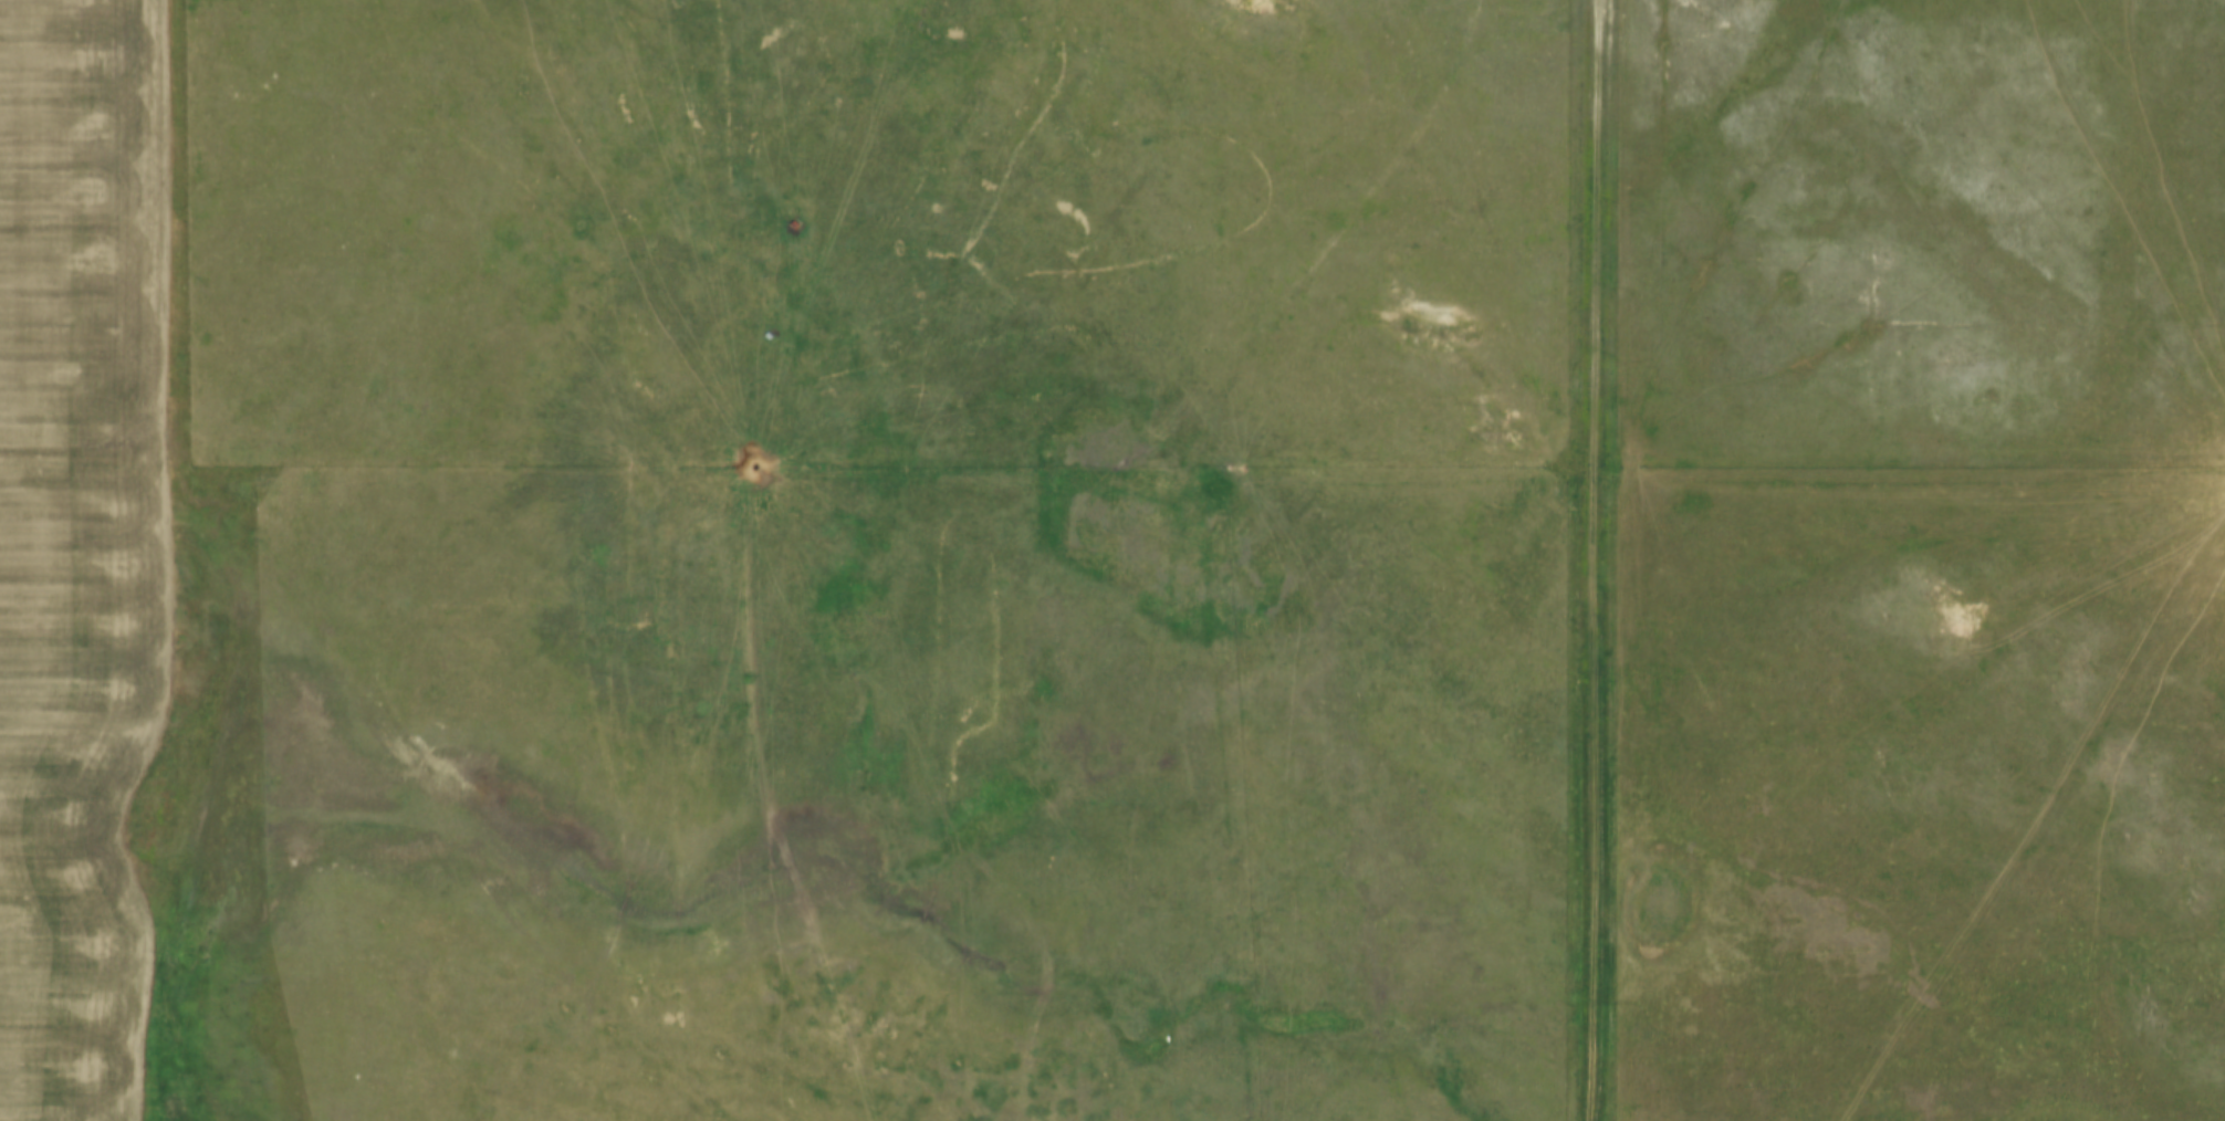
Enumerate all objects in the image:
road: (1588, 559)

